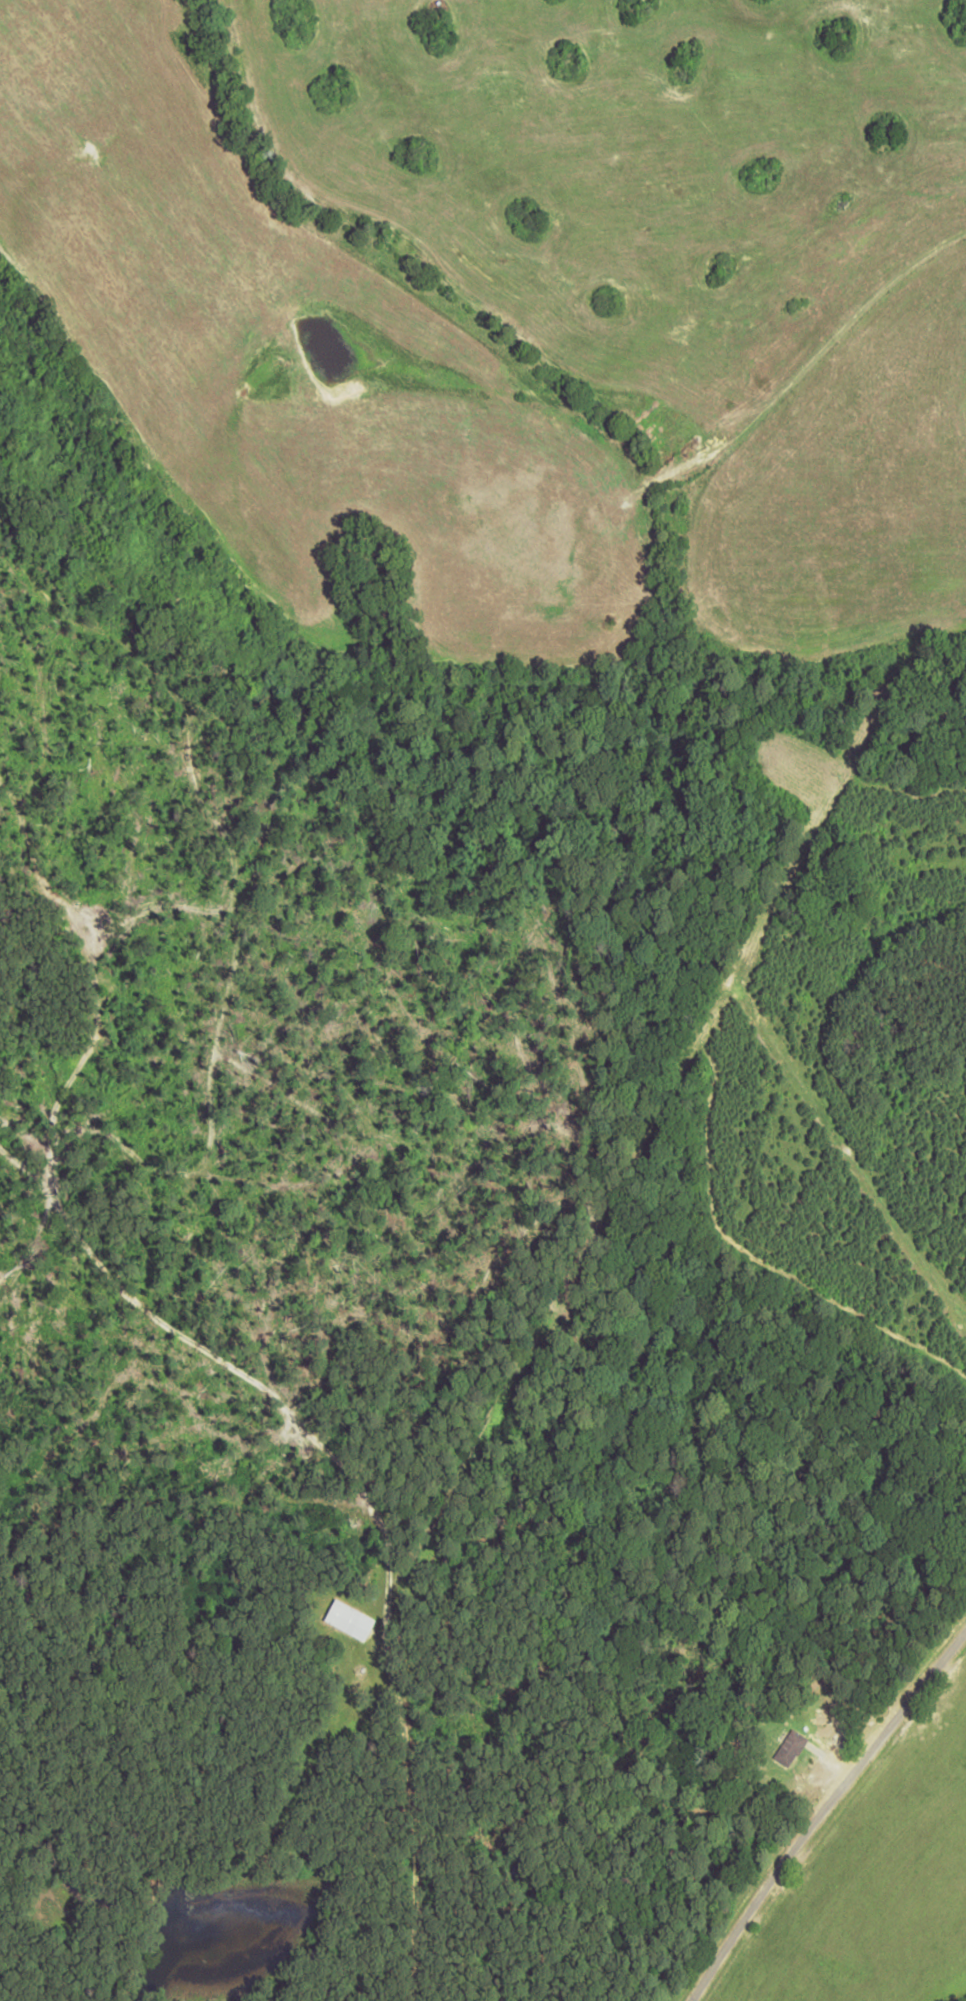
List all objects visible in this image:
road: (202, 1338)
road: (705, 1419)
building: (349, 1619)
building: (794, 1743)
road: (824, 1807)

